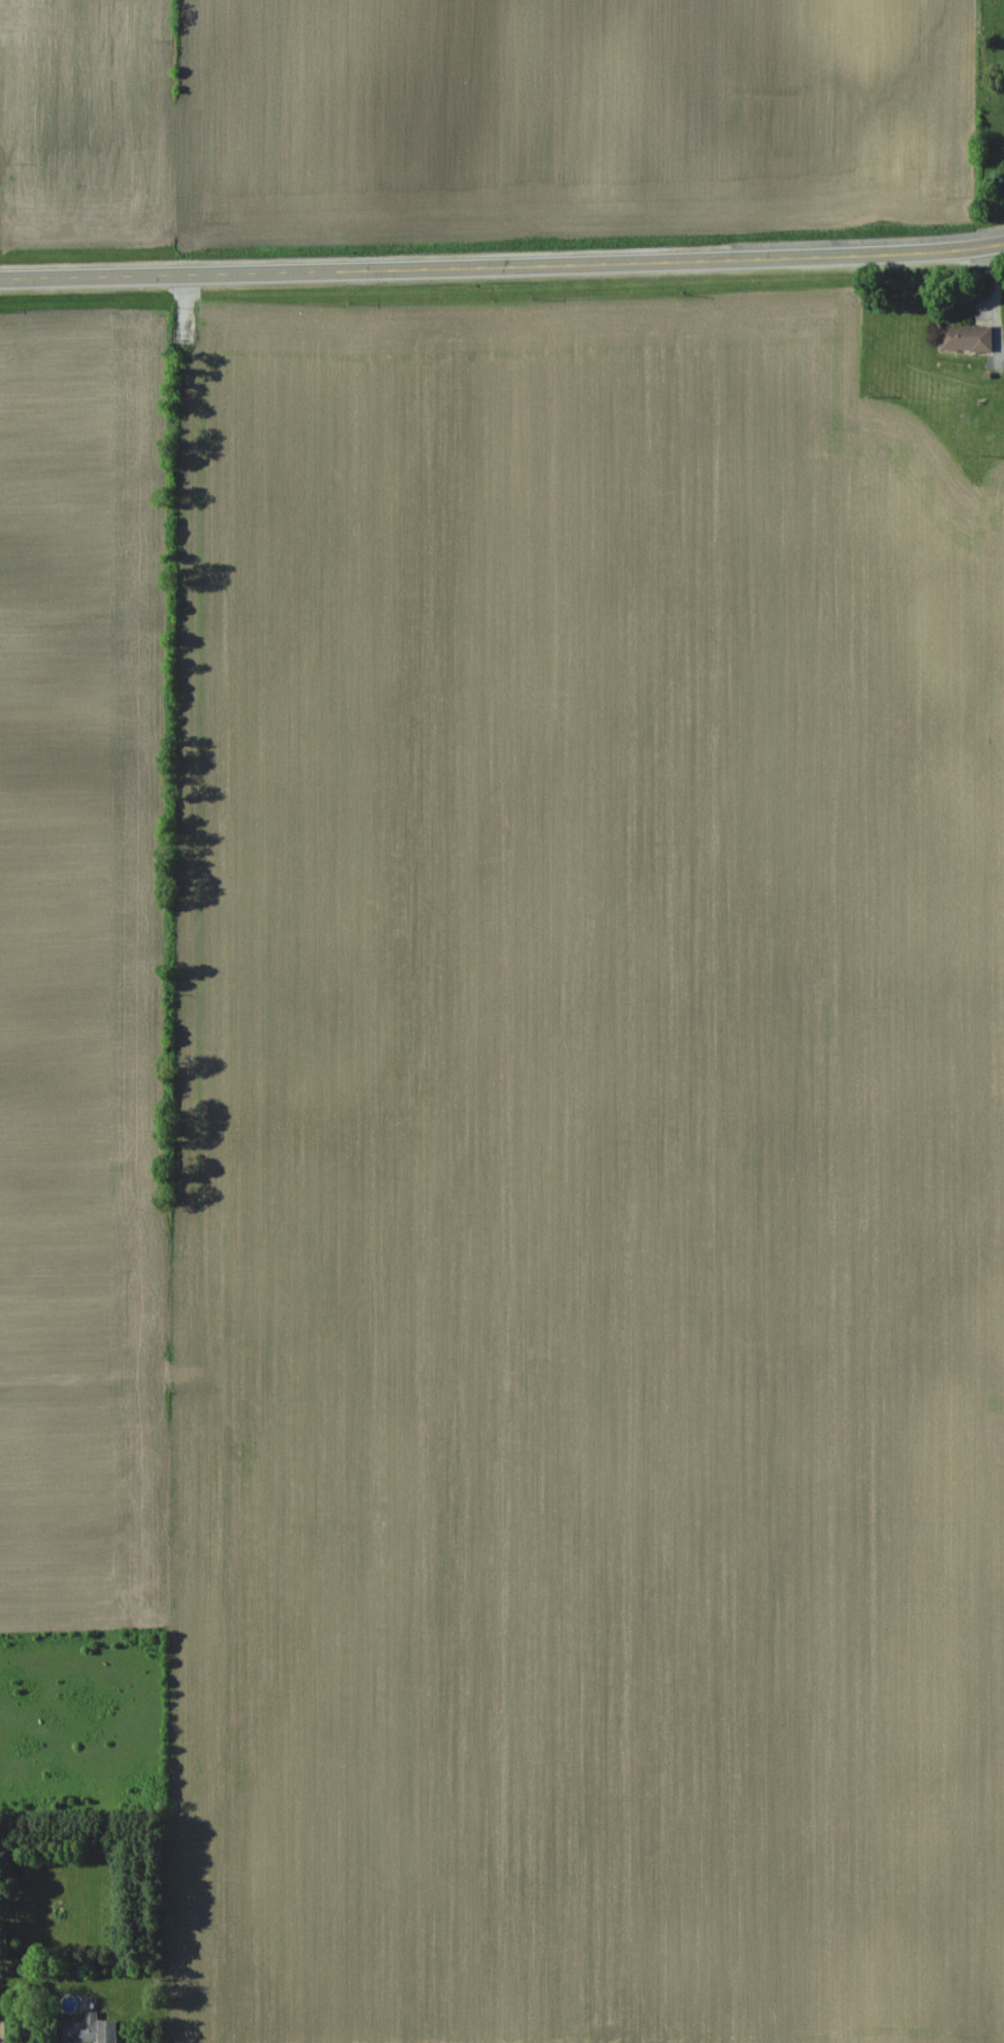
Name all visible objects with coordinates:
park: (991, 109)
road: (502, 266)
building: (965, 339)
building: (981, 420)
building: (88, 2030)

